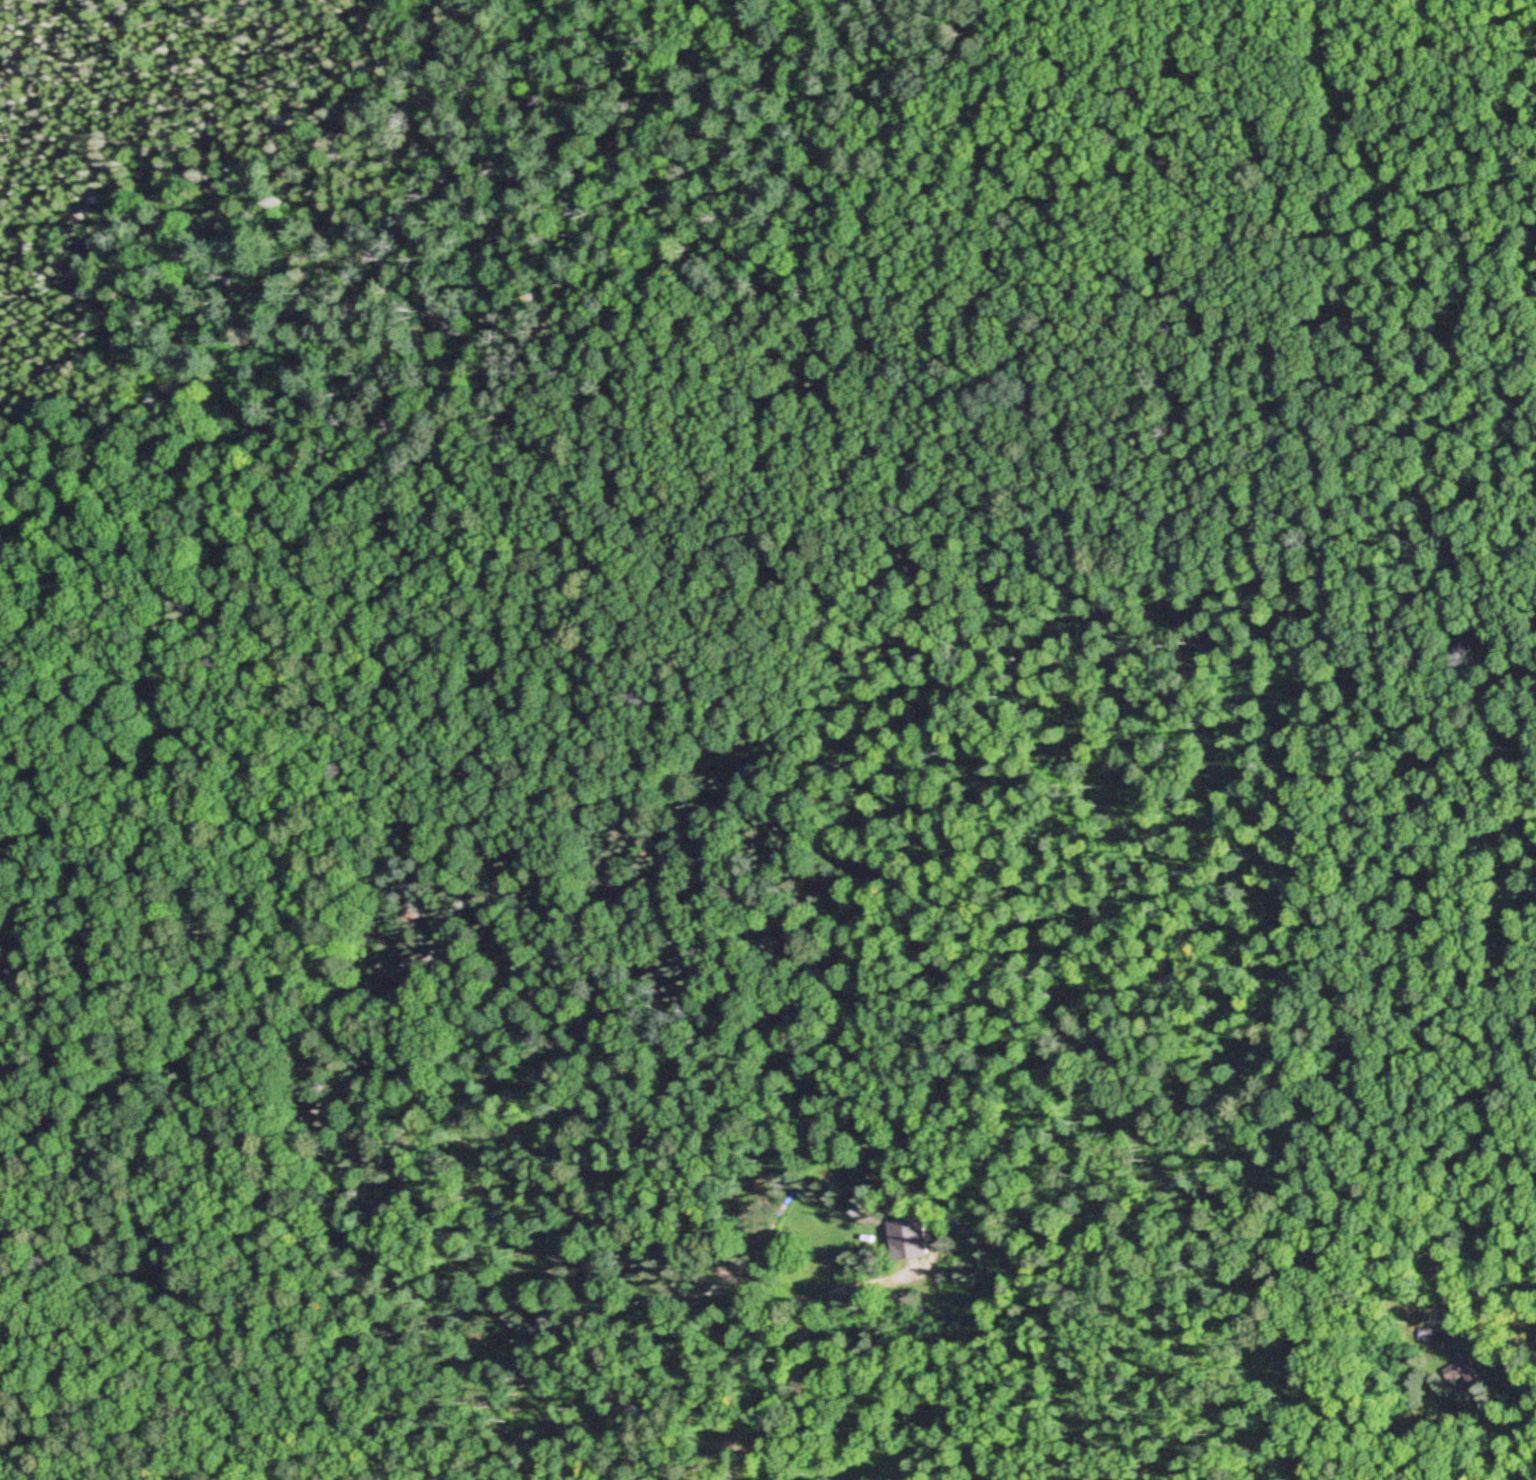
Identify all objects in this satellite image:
building: (840, 1260)
building: (1535, 1337)
building: (1460, 1370)

